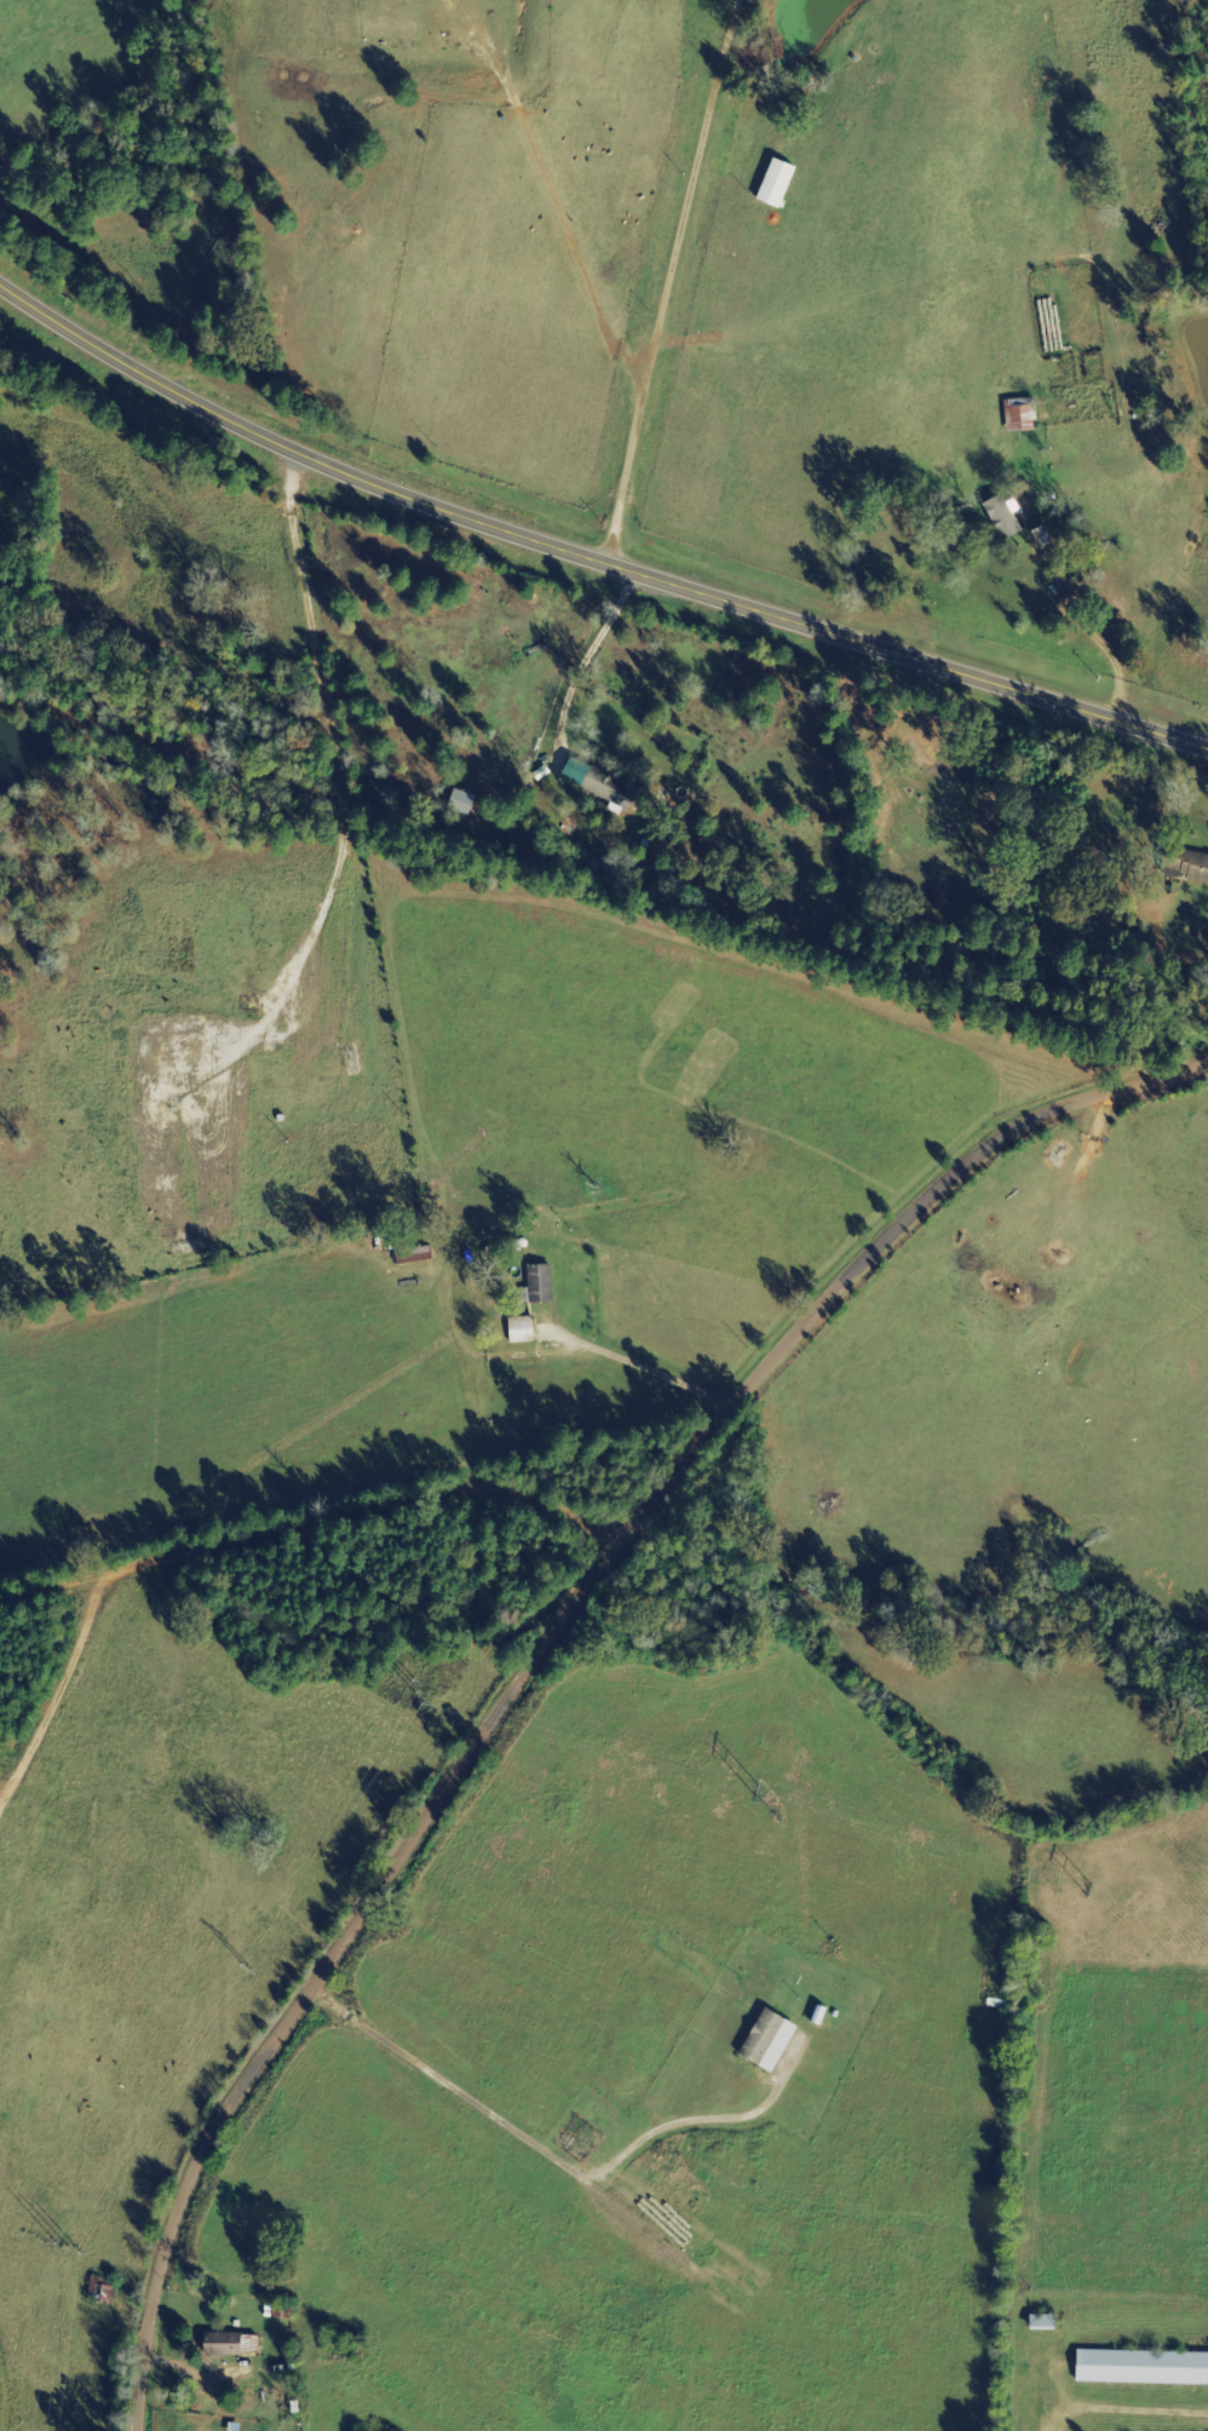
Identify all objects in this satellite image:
building: (780, 183)
building: (1024, 413)
building: (1006, 517)
road: (586, 556)
building: (604, 783)
building: (465, 803)
building: (1187, 863)
railway: (604, 880)
building: (542, 1285)
building: (524, 1329)
road: (305, 1535)
road: (560, 1661)
power tower: (407, 1692)
power tower: (748, 1791)
power tower: (1086, 1890)
power tower: (237, 1966)
building: (772, 2039)
power tower: (57, 2246)
building: (1046, 2322)
building: (235, 2344)
building: (1144, 2367)

